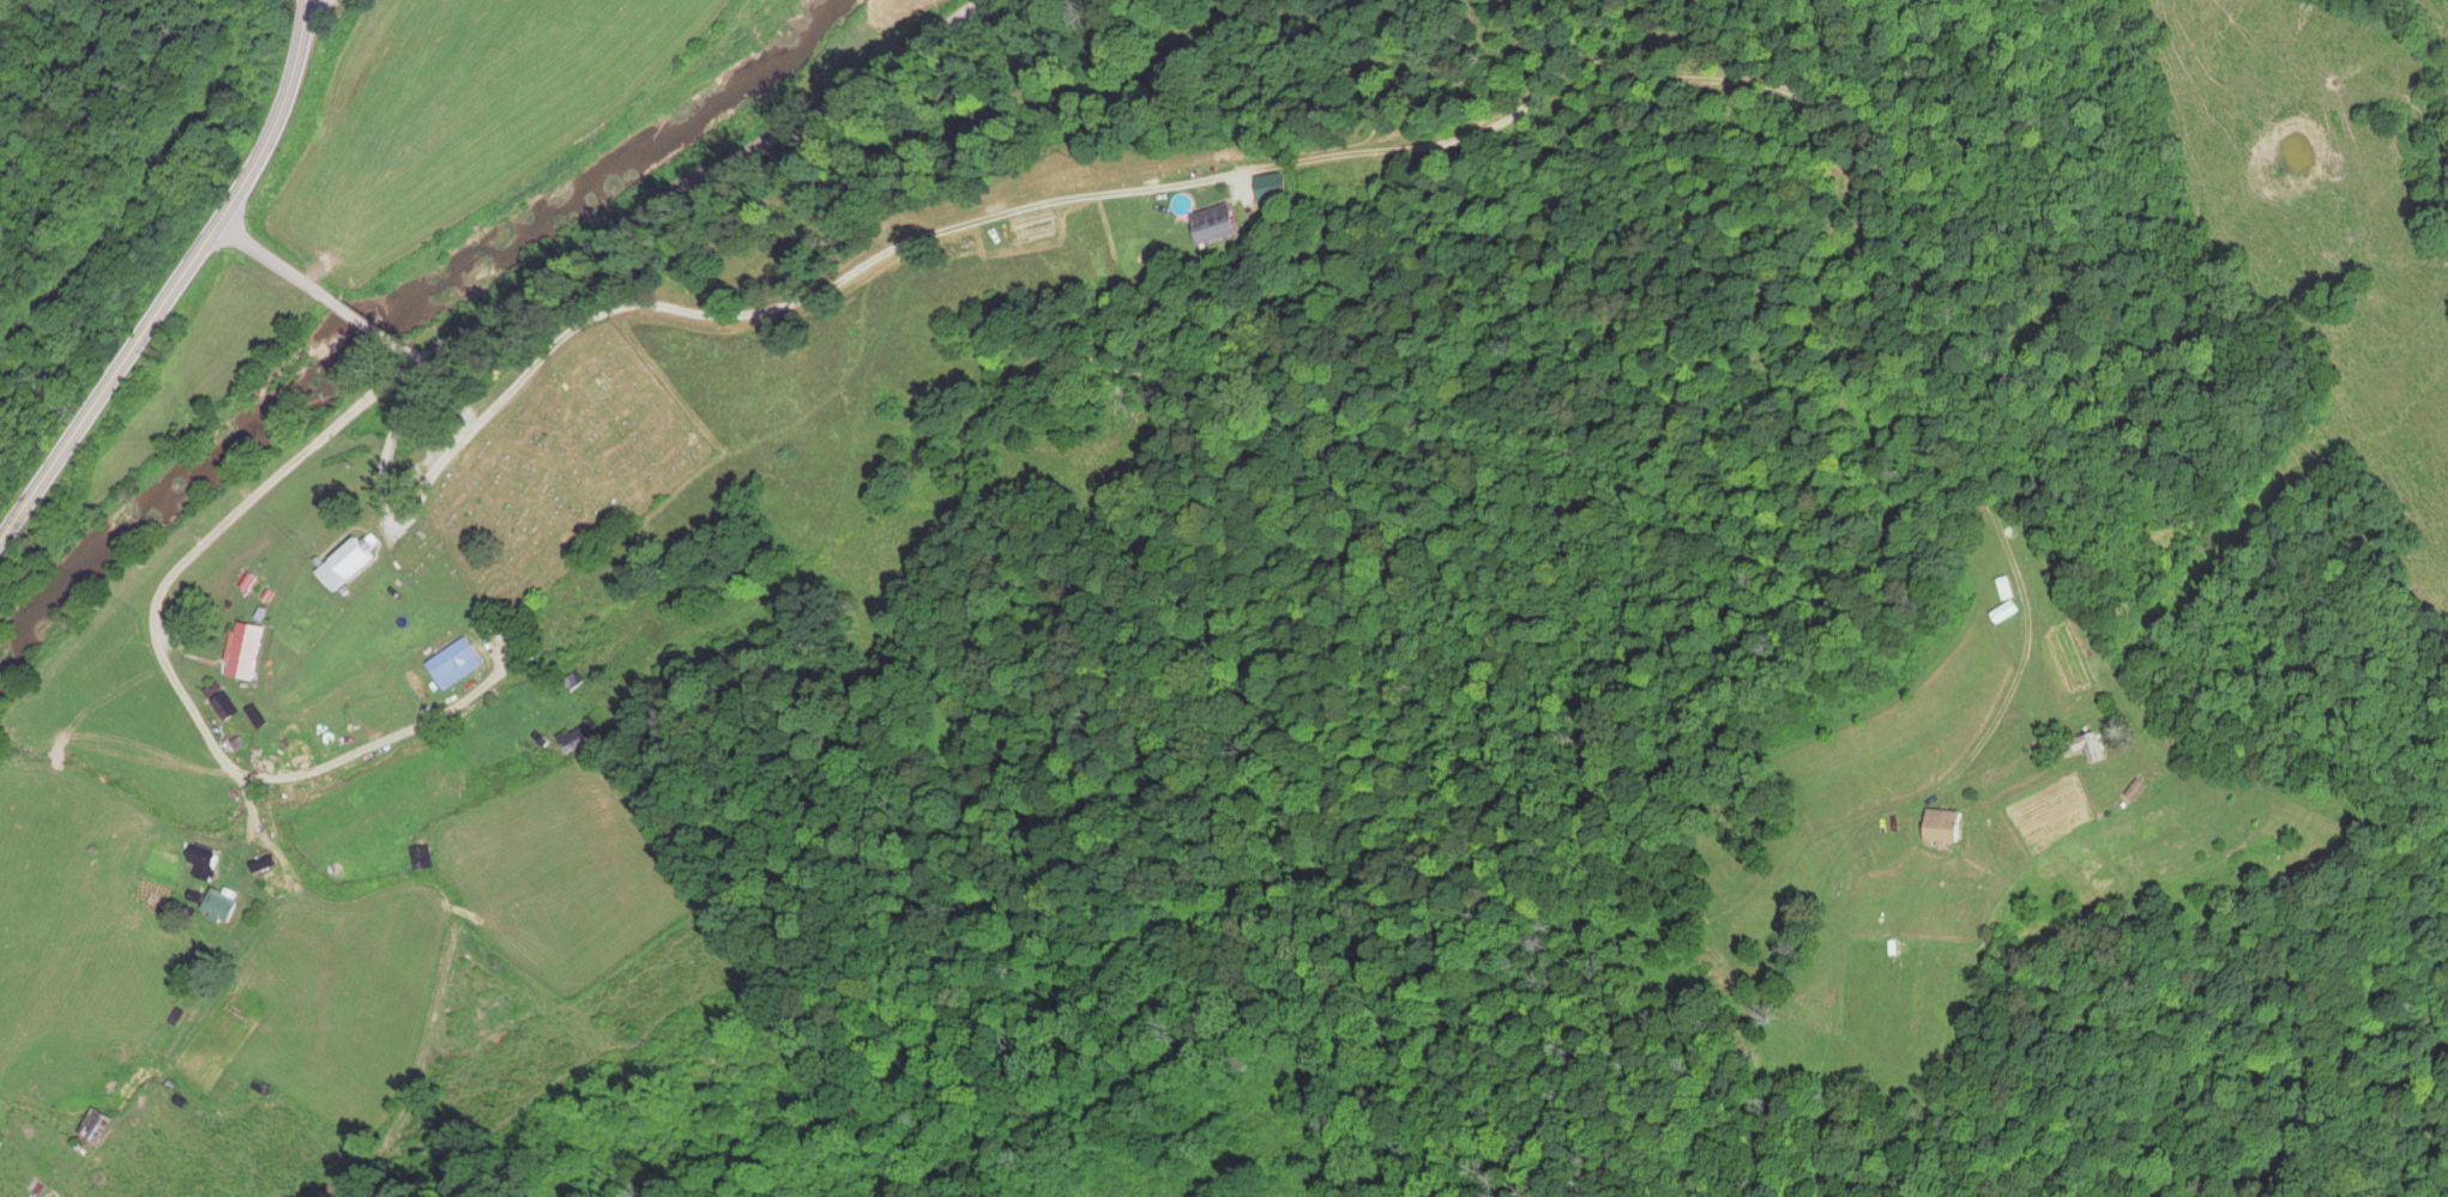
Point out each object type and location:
road: (682, 224)
building: (1224, 224)
building: (989, 242)
road: (181, 291)
road: (320, 291)
river: (391, 331)
road: (222, 545)
building: (354, 564)
building: (2012, 613)
building: (251, 652)
building: (229, 707)
building: (578, 740)
building: (2104, 752)
building: (2146, 792)
road: (336, 806)
building: (1954, 827)
building: (429, 859)
building: (209, 864)
building: (223, 906)
building: (100, 1125)

